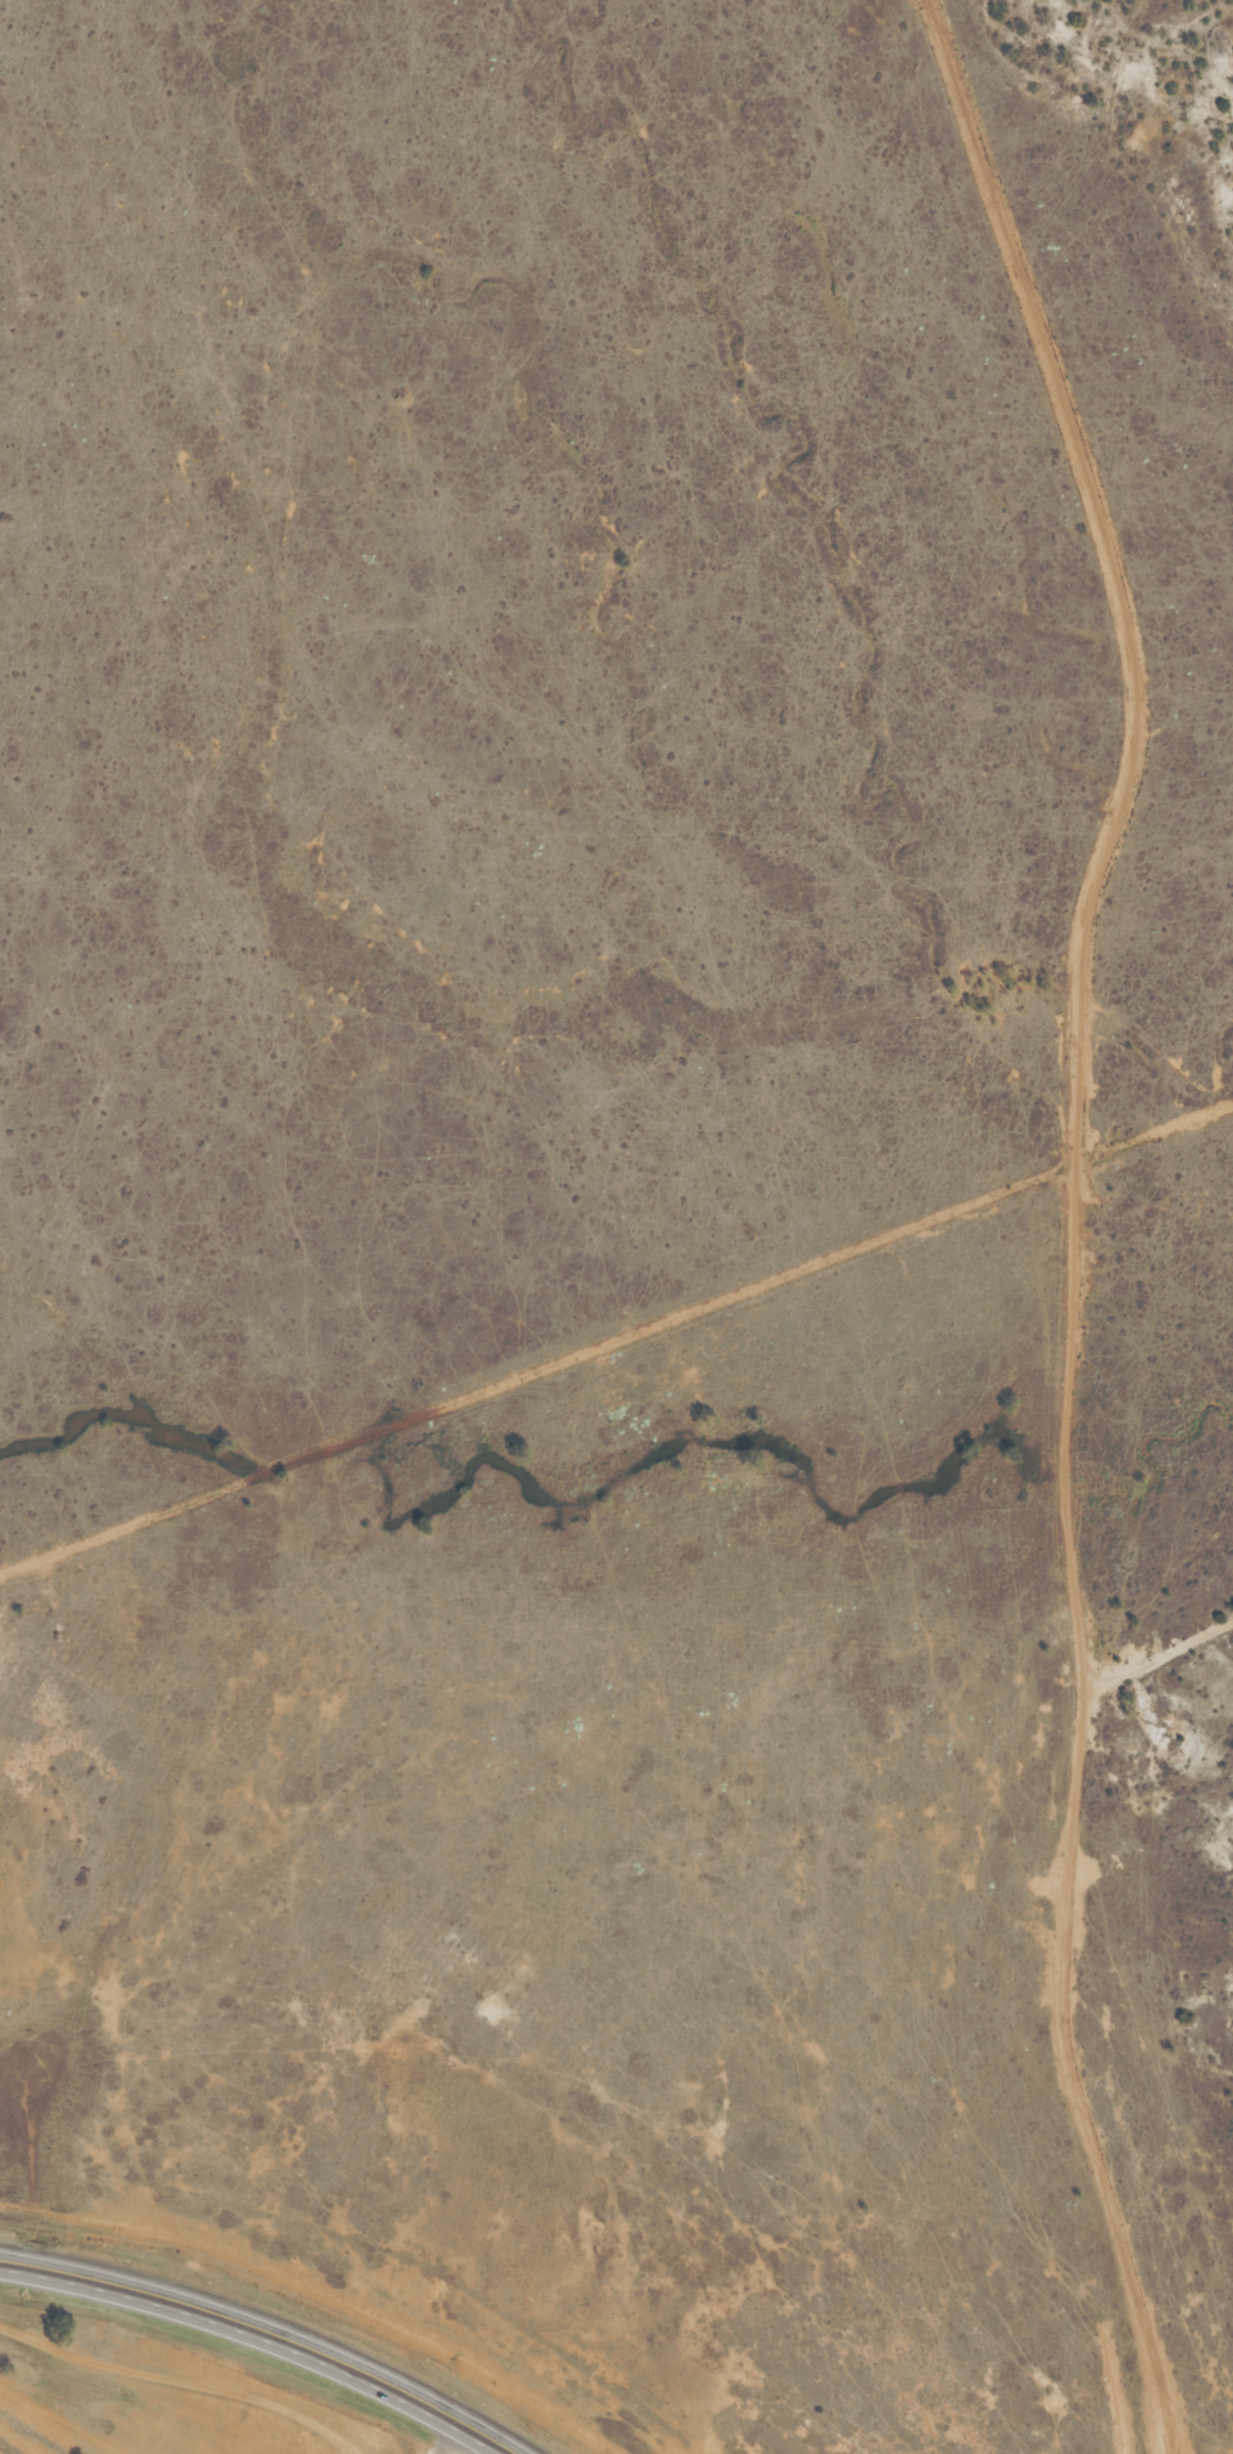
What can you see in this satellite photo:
road: (1075, 1212)
road: (536, 1369)
road: (249, 2262)
road: (258, 2333)
road: (181, 2382)
road: (550, 2413)
road: (458, 2446)
road: (470, 2446)

